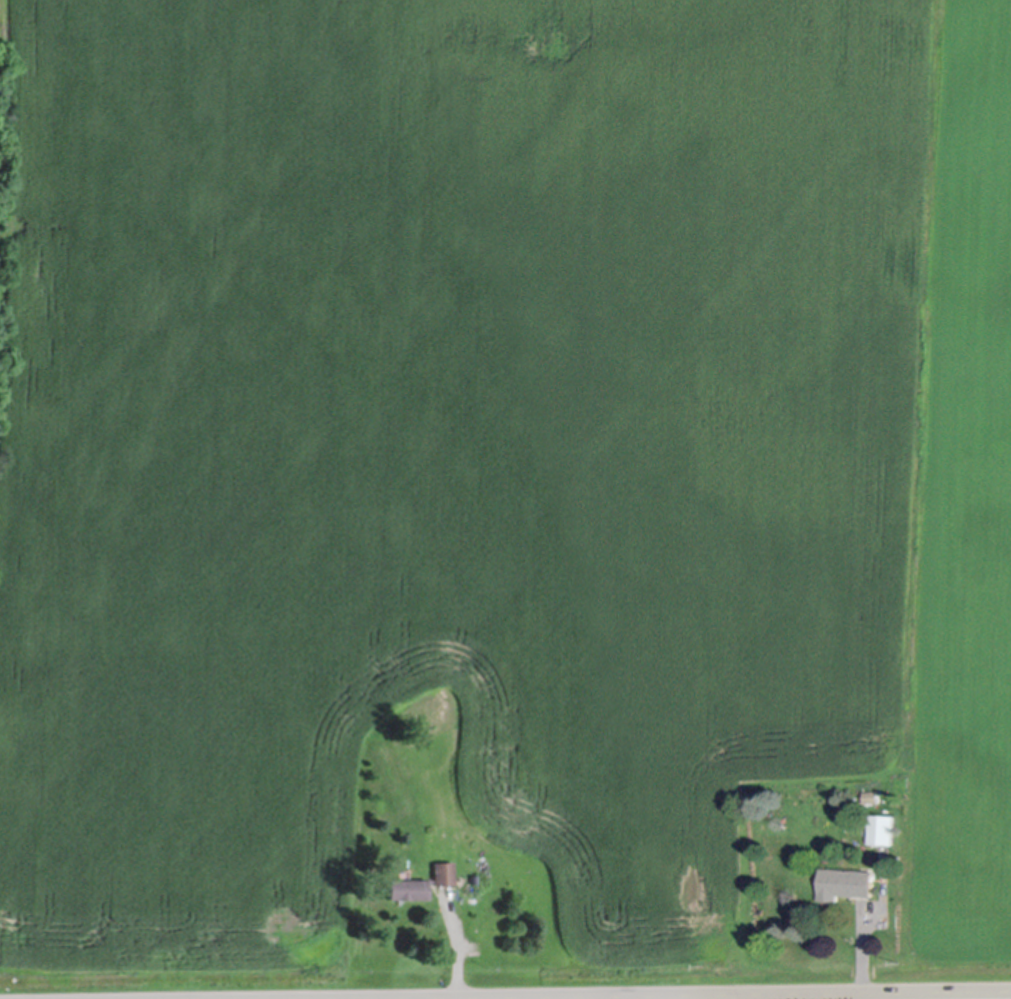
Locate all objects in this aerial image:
building: (465, 696)
building: (440, 871)
building: (843, 882)
building: (404, 887)
road: (864, 953)
road: (458, 956)
road: (526, 993)
road: (774, 994)

